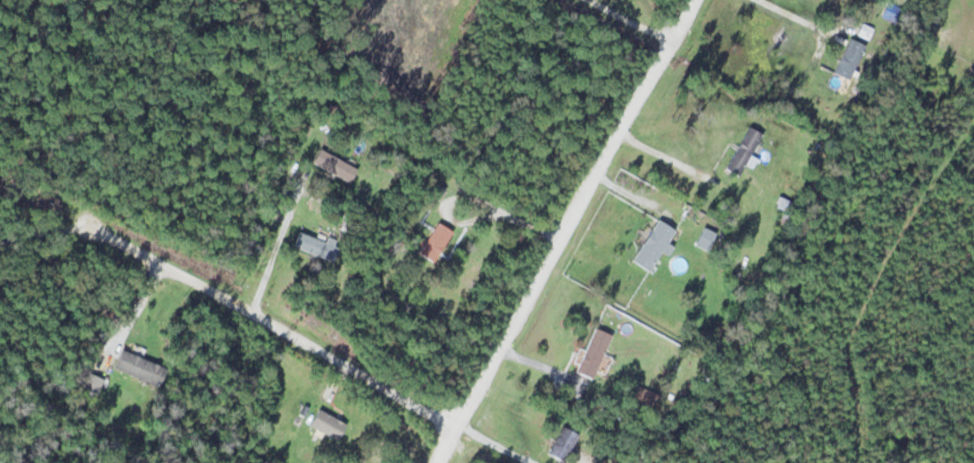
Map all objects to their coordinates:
road: (628, 23)
building: (741, 150)
building: (332, 164)
road: (568, 231)
building: (434, 242)
building: (652, 244)
building: (314, 246)
road: (272, 330)
building: (593, 354)
building: (643, 399)
building: (325, 423)
building: (560, 444)

